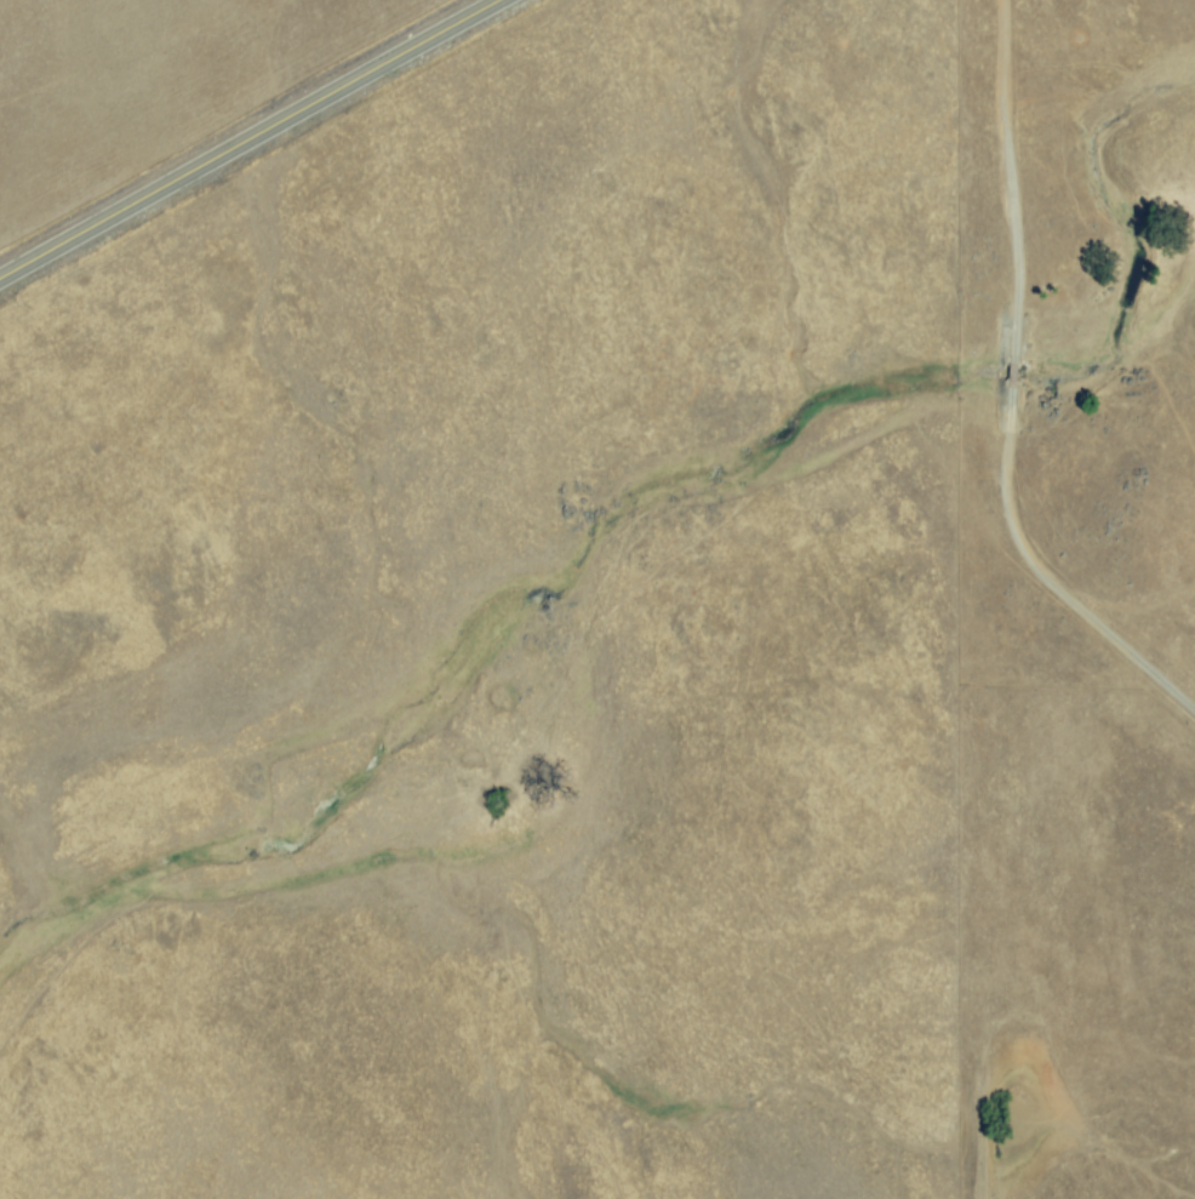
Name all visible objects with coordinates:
road: (250, 139)
road: (1008, 395)

